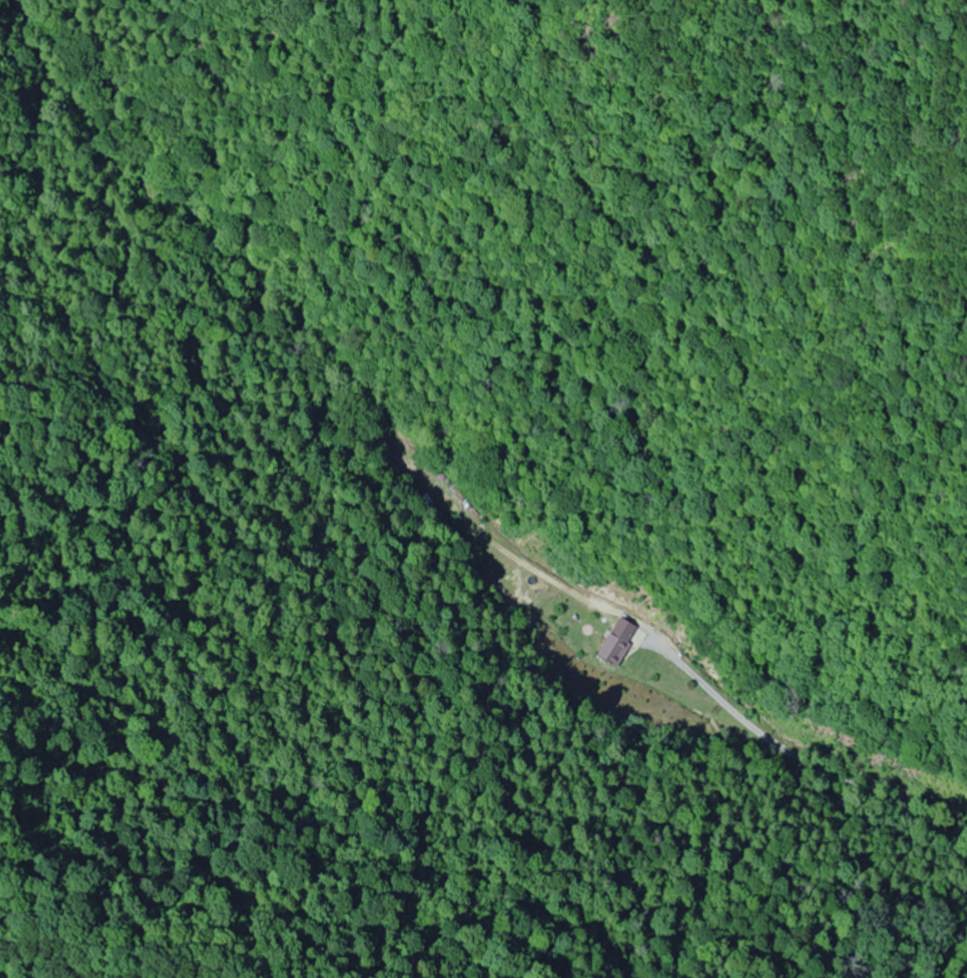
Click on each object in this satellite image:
building: (615, 642)

